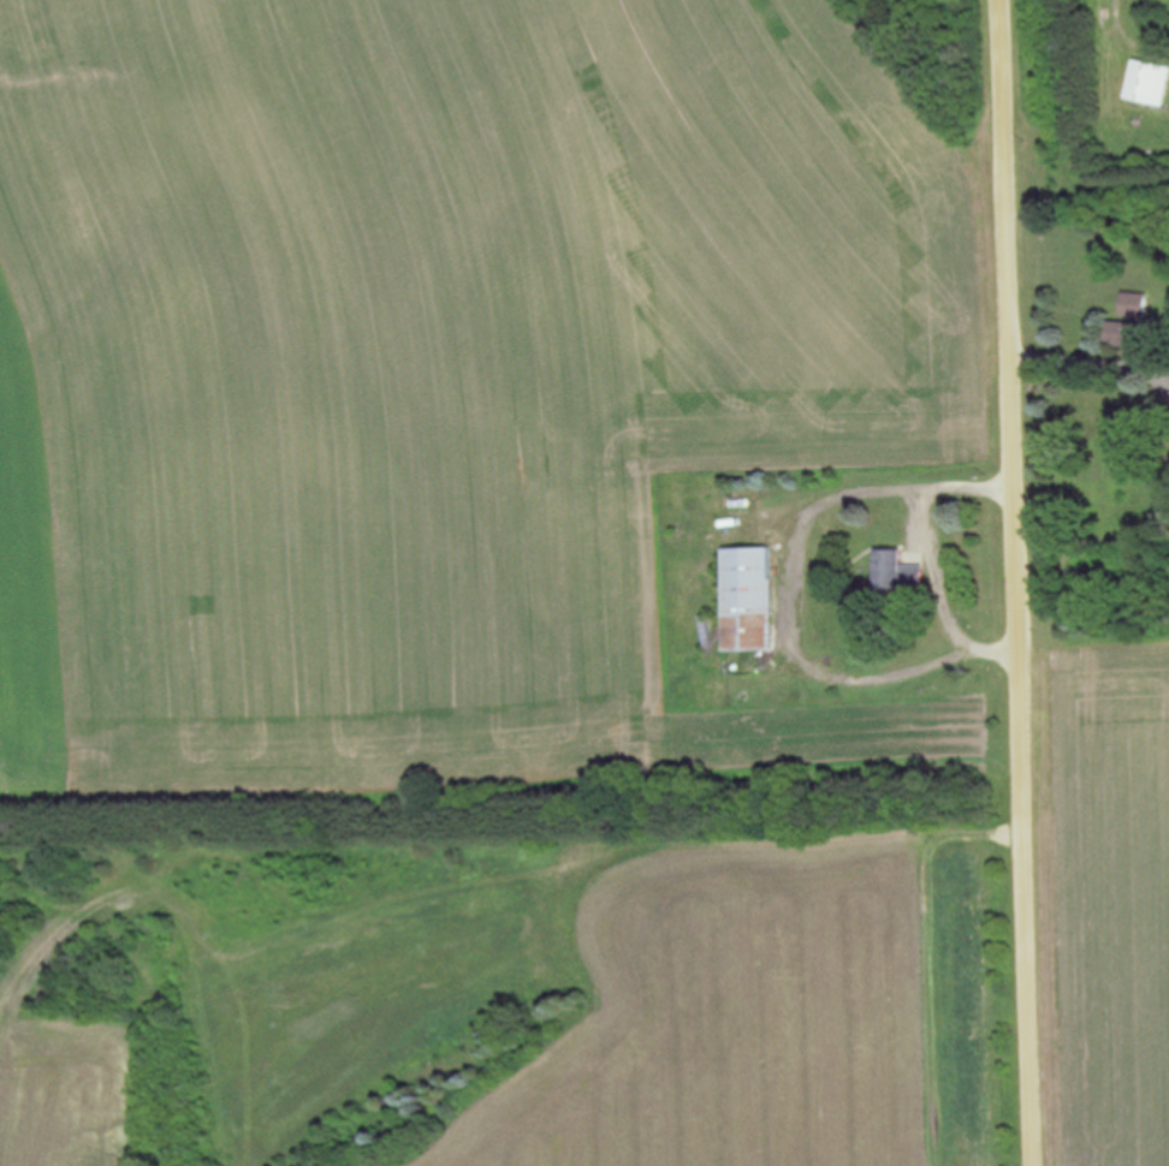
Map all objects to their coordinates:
building: (1147, 82)
building: (1134, 305)
building: (1126, 334)
road: (1092, 362)
road: (1168, 376)
road: (1168, 385)
road: (931, 549)
building: (892, 571)
road: (1021, 582)
building: (750, 600)
road: (794, 615)

